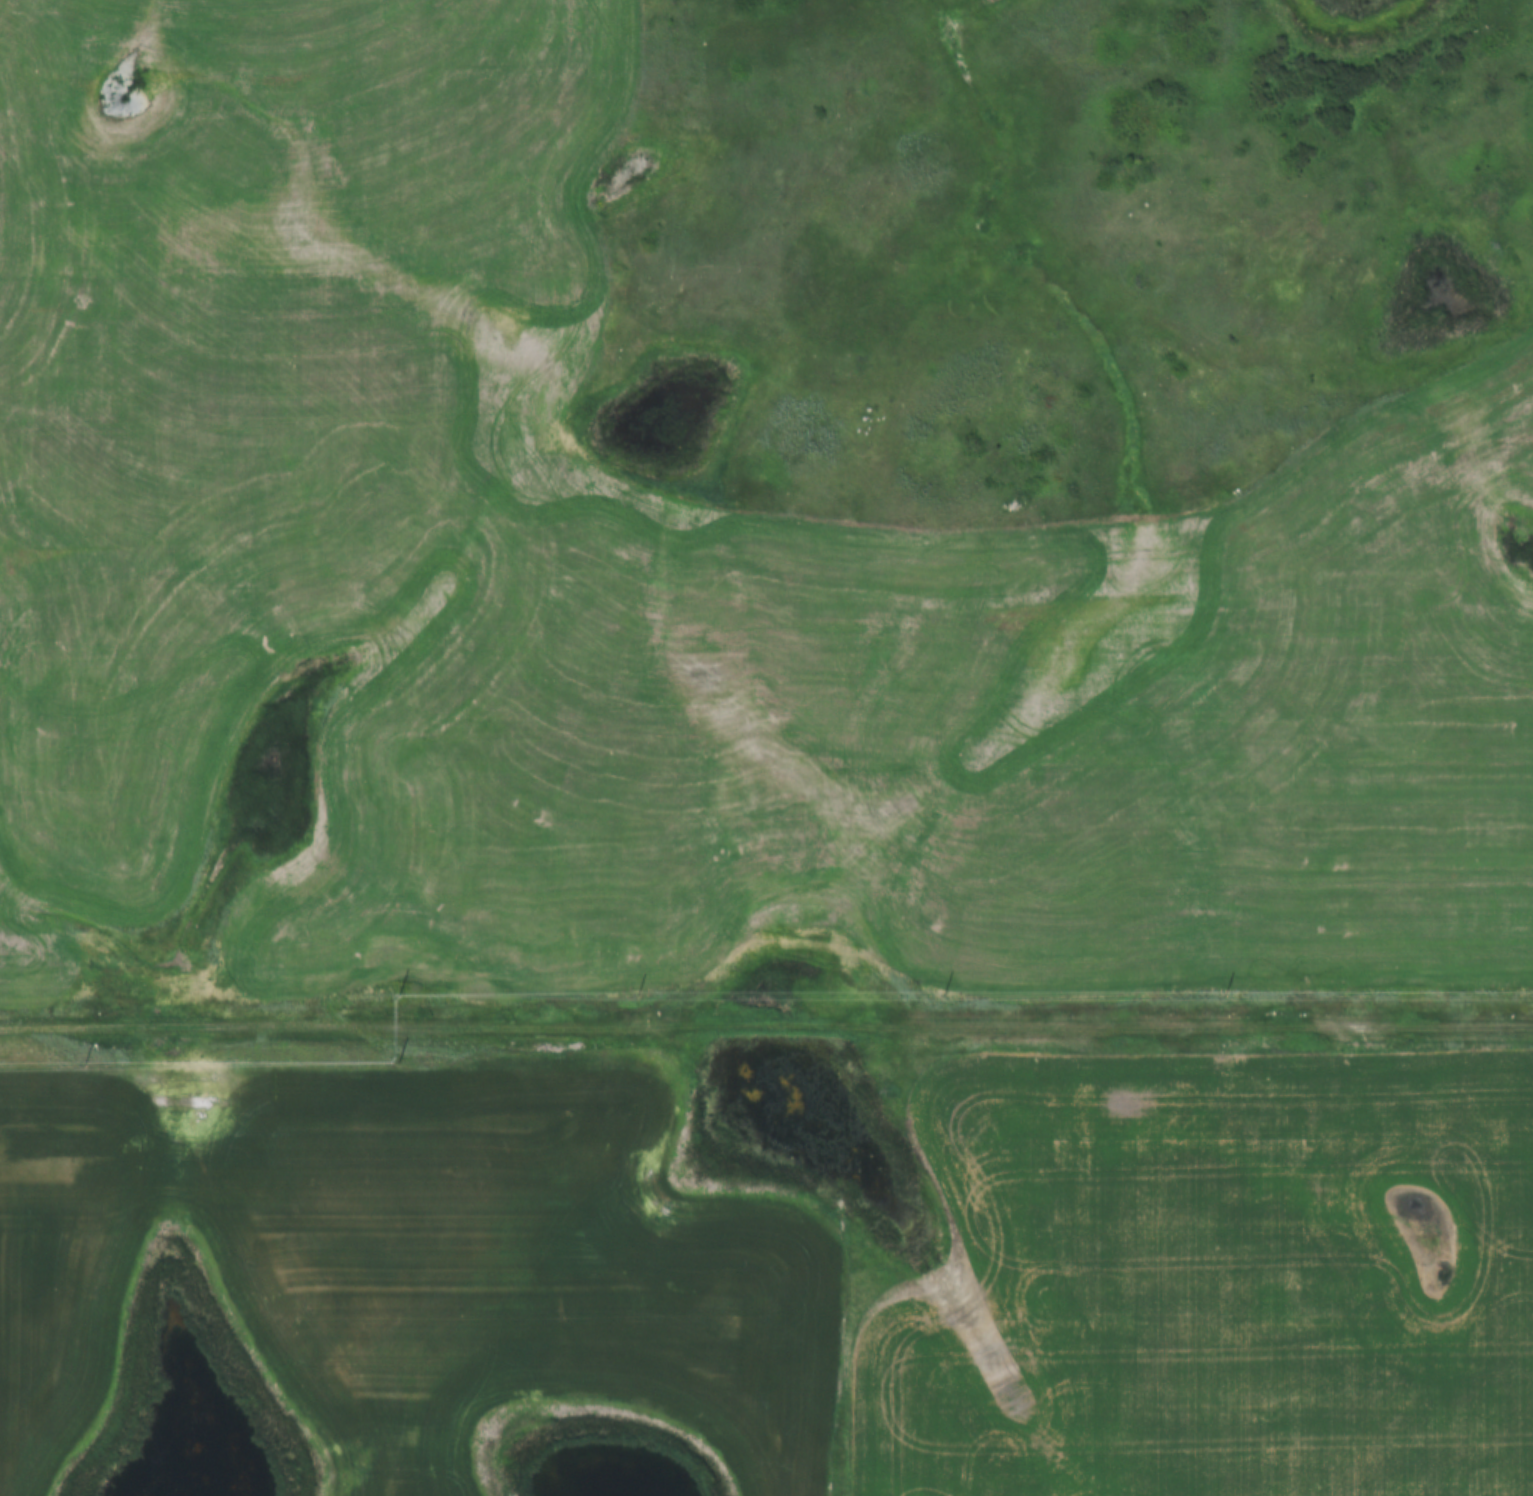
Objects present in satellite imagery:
road: (766, 1022)

